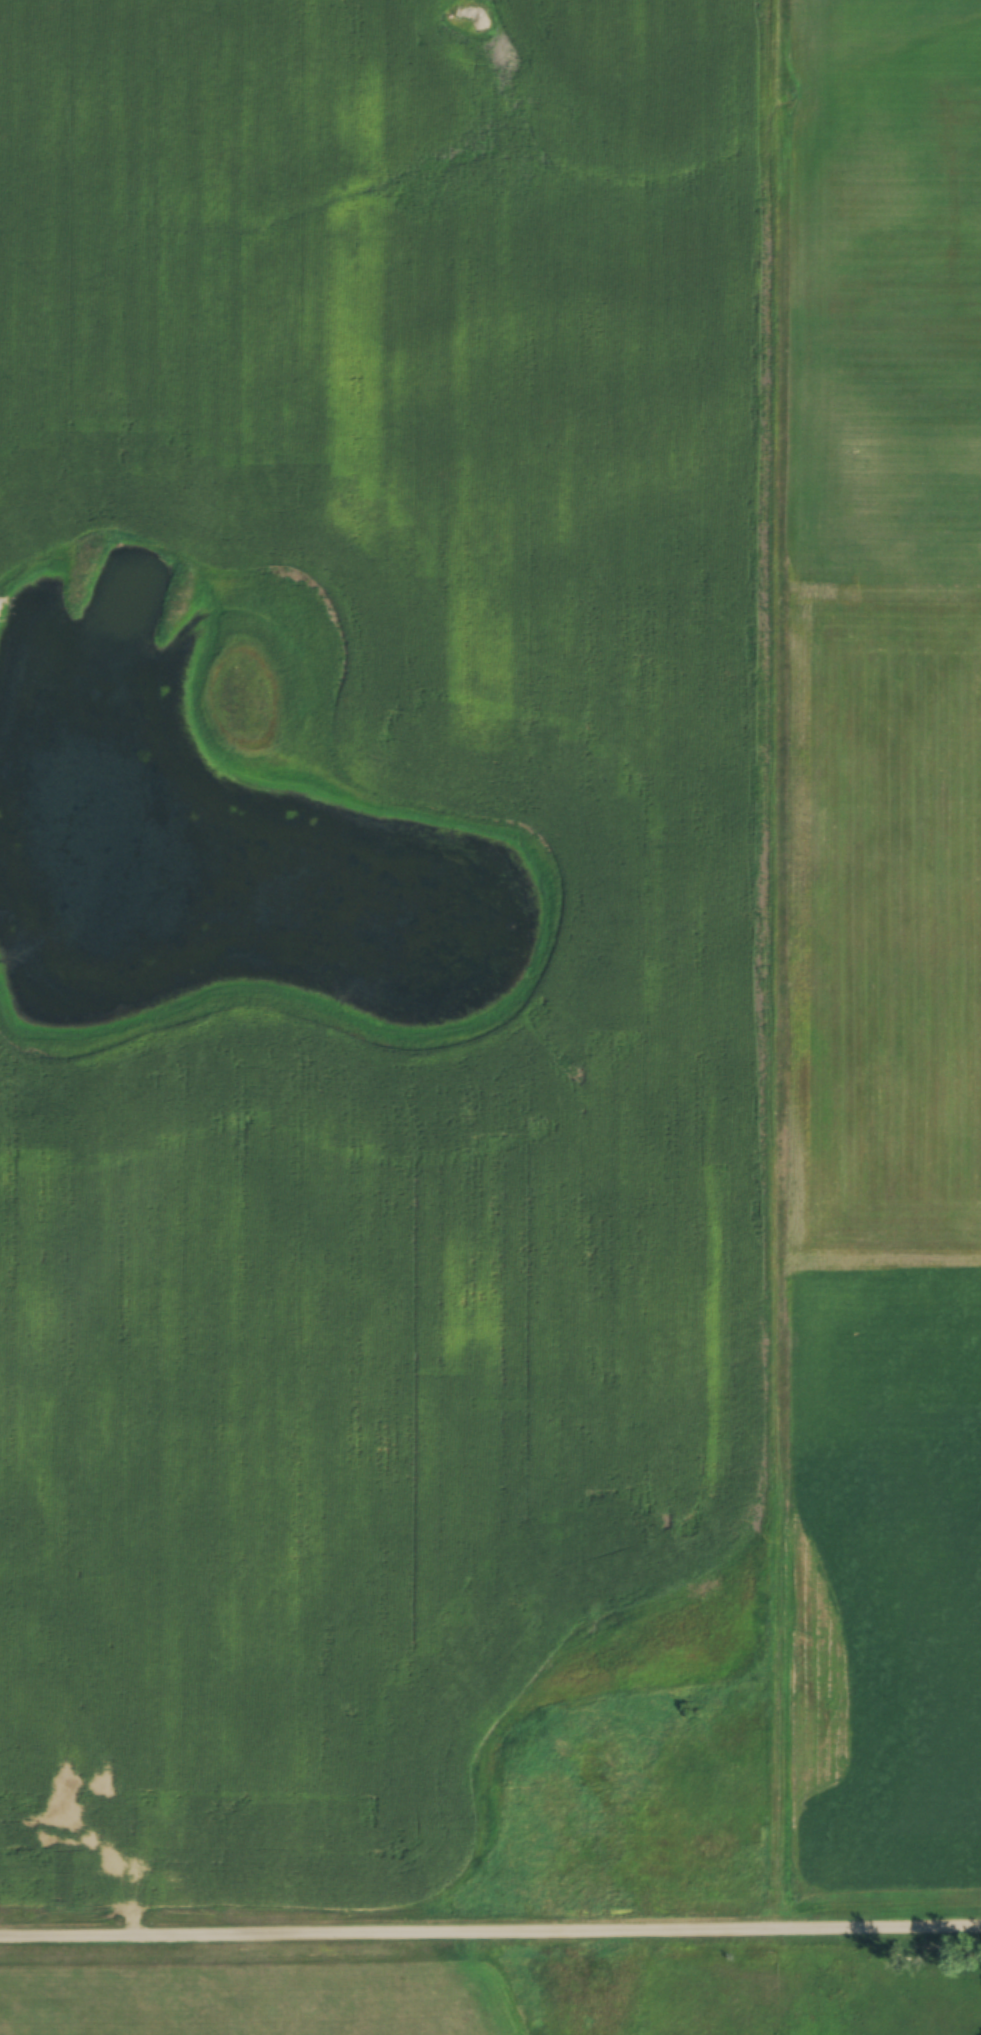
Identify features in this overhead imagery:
road: (490, 1927)

